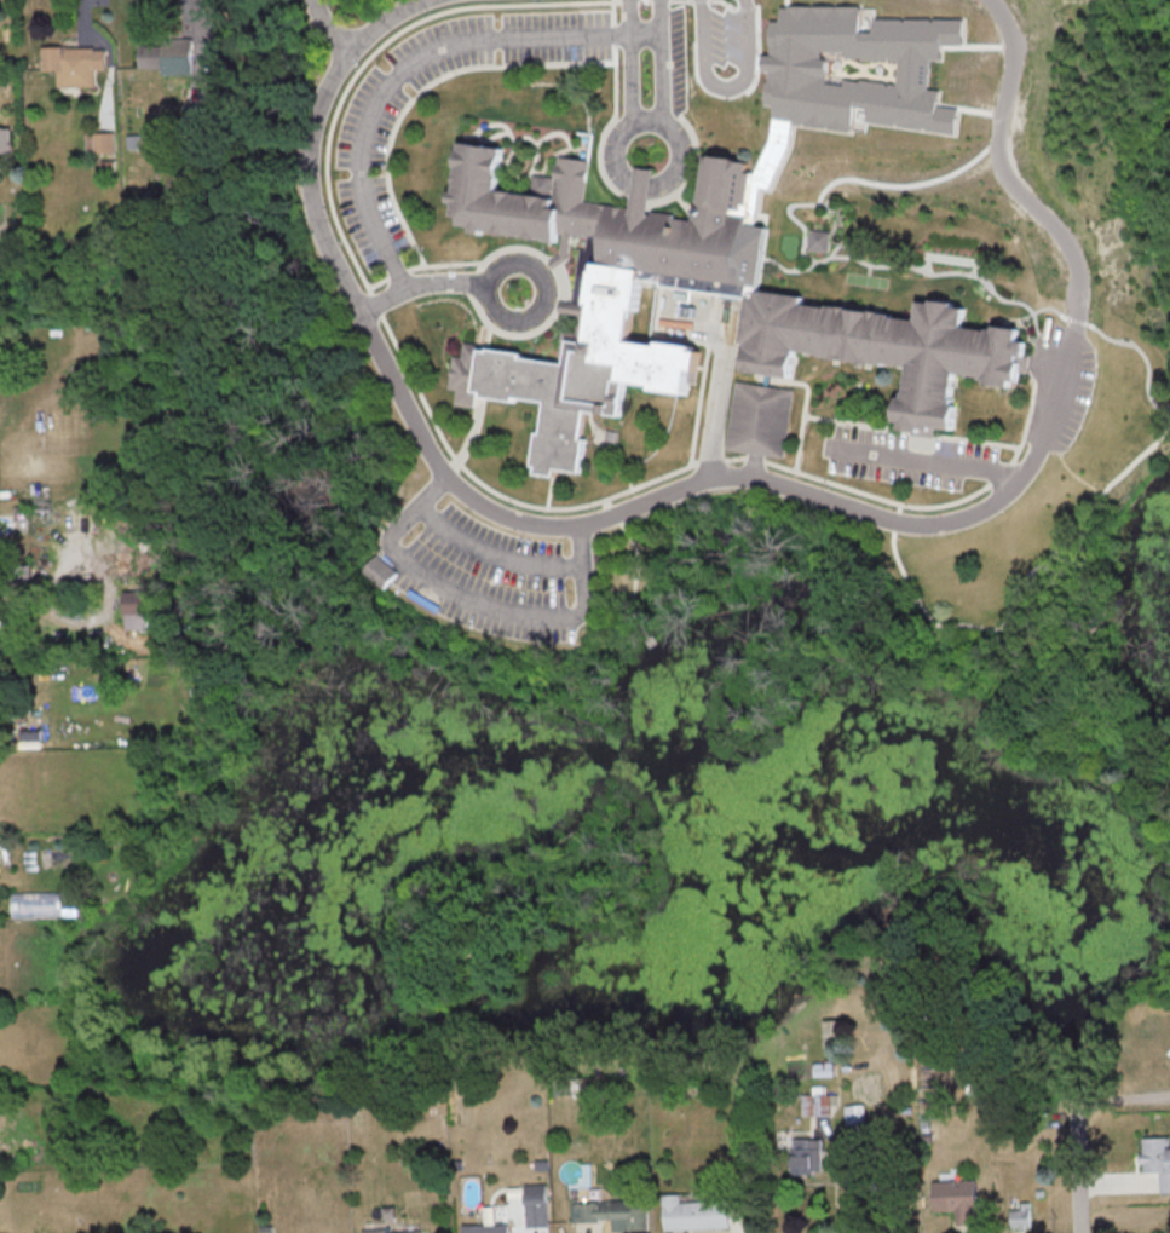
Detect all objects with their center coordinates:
road: (333, 27)
road: (411, 59)
road: (662, 61)
road: (630, 62)
building: (74, 63)
building: (854, 68)
road: (724, 86)
building: (5, 140)
building: (99, 142)
road: (615, 160)
building: (817, 240)
road: (433, 283)
building: (836, 316)
road: (720, 379)
building: (760, 417)
road: (929, 460)
road: (716, 477)
road: (492, 549)
building: (380, 570)
road: (36, 593)
road: (478, 601)
building: (132, 609)
building: (38, 904)
road: (1122, 1097)
building: (817, 1101)
building: (806, 1154)
building: (1157, 1158)
road: (1077, 1170)
road: (848, 1175)
building: (956, 1199)
building: (536, 1205)
building: (694, 1212)
building: (612, 1214)
building: (1020, 1215)
building: (485, 1228)
building: (393, 1231)

